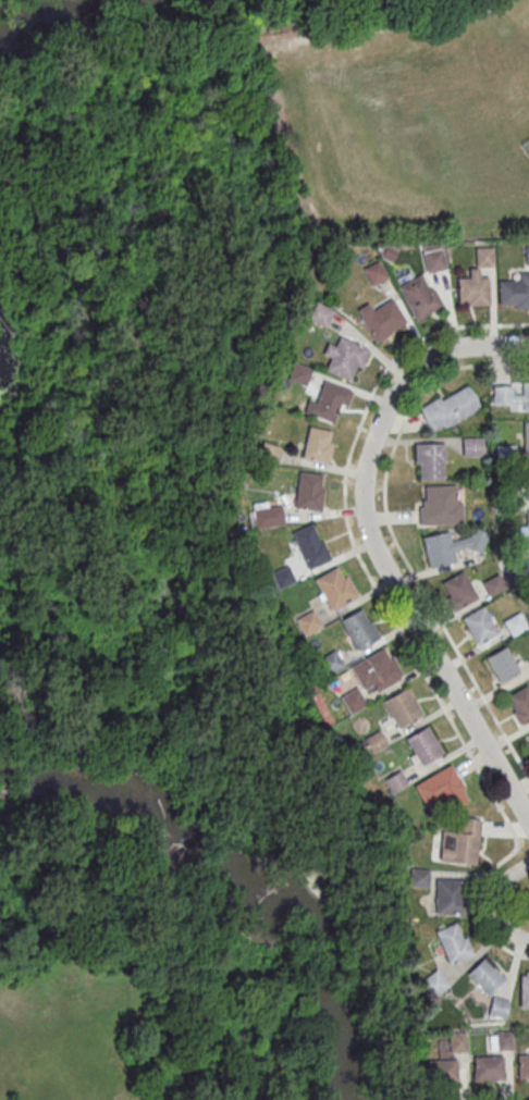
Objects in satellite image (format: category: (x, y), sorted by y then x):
river: (45, 16)
building: (432, 257)
building: (374, 272)
building: (476, 281)
building: (514, 292)
building: (418, 295)
building: (319, 313)
building: (380, 319)
road: (456, 348)
building: (345, 358)
building: (298, 373)
building: (510, 396)
building: (327, 401)
building: (448, 407)
building: (525, 436)
building: (317, 444)
building: (471, 446)
building: (267, 452)
building: (429, 460)
building: (526, 482)
building: (308, 491)
building: (440, 504)
building: (266, 514)
building: (527, 528)
road: (393, 537)
building: (310, 545)
building: (452, 548)
building: (493, 584)
building: (333, 586)
building: (457, 590)
park: (165, 591)
road: (389, 611)
road: (408, 611)
building: (307, 621)
building: (514, 623)
building: (479, 625)
building: (358, 628)
building: (329, 662)
building: (501, 664)
building: (374, 669)
building: (24, 684)
building: (350, 700)
building: (519, 703)
building: (318, 704)
building: (399, 706)
building: (528, 738)
building: (372, 741)
building: (422, 745)
building: (393, 781)
building: (441, 788)
building: (459, 842)
river: (225, 869)
building: (416, 877)
building: (446, 897)
road: (496, 902)
building: (451, 942)
building: (482, 976)
building: (429, 984)
building: (522, 989)
building: (495, 1008)
building: (499, 1040)
building: (455, 1041)
building: (522, 1066)
building: (487, 1067)
building: (440, 1071)
river: (337, 1080)

